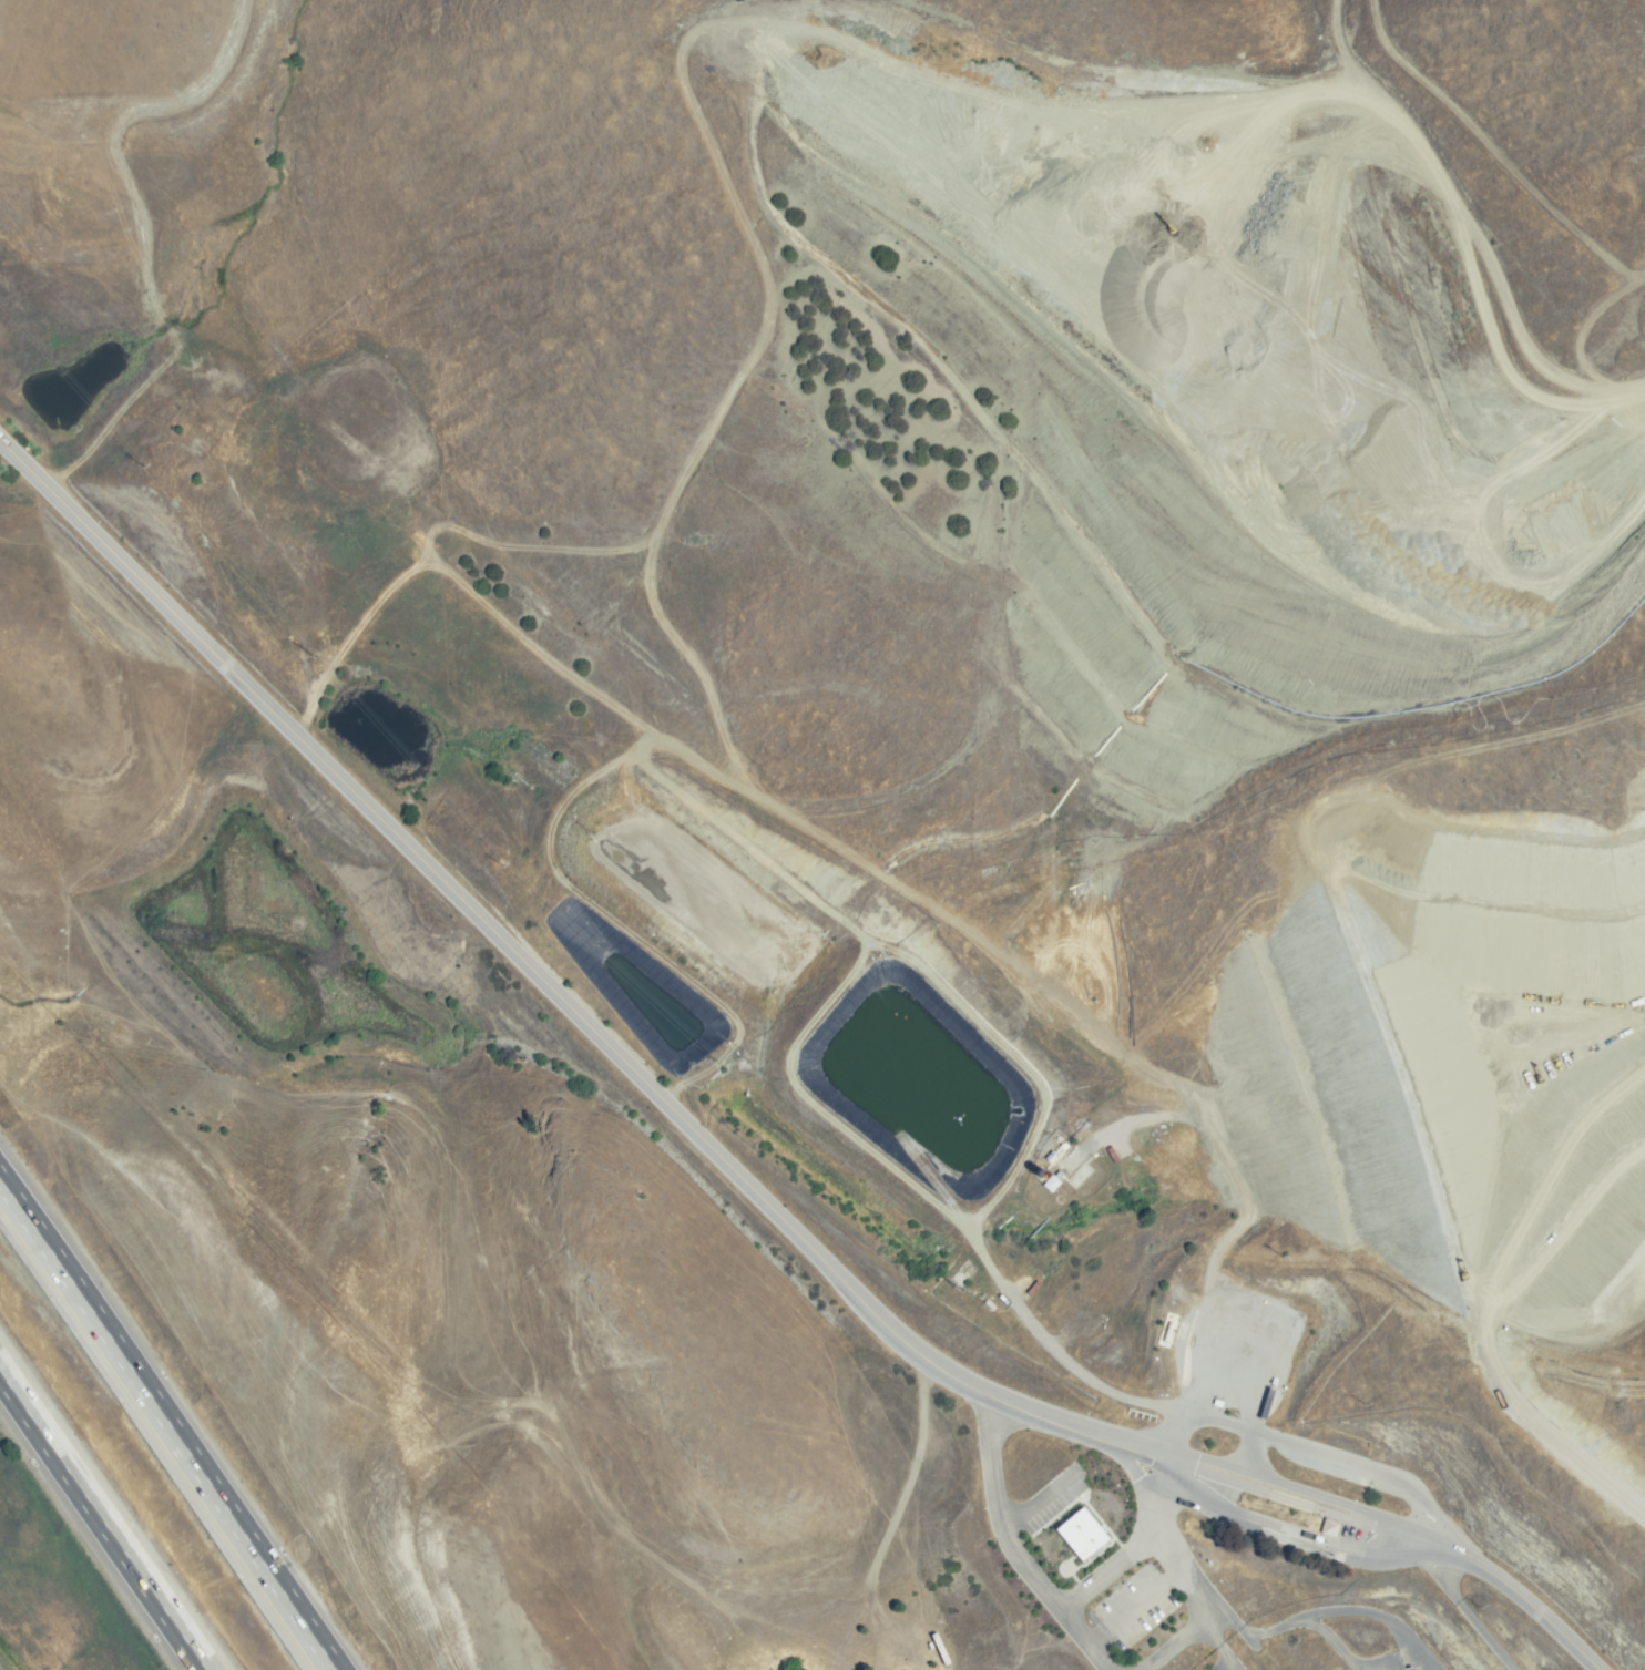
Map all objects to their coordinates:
road: (737, 372)
road: (1620, 420)
landfill: (1204, 439)
road: (858, 965)
landfill: (1518, 1046)
road: (728, 1166)
road: (1202, 1275)
road: (1045, 1345)
road: (167, 1424)
road: (1319, 1458)
road: (1245, 1459)
road: (1036, 1500)
road: (102, 1520)
building: (1080, 1534)
road: (1004, 1544)
road: (1104, 1574)
road: (1185, 1579)
road: (1130, 1607)
road: (1334, 1611)
road: (1464, 1612)
road: (1218, 1648)

